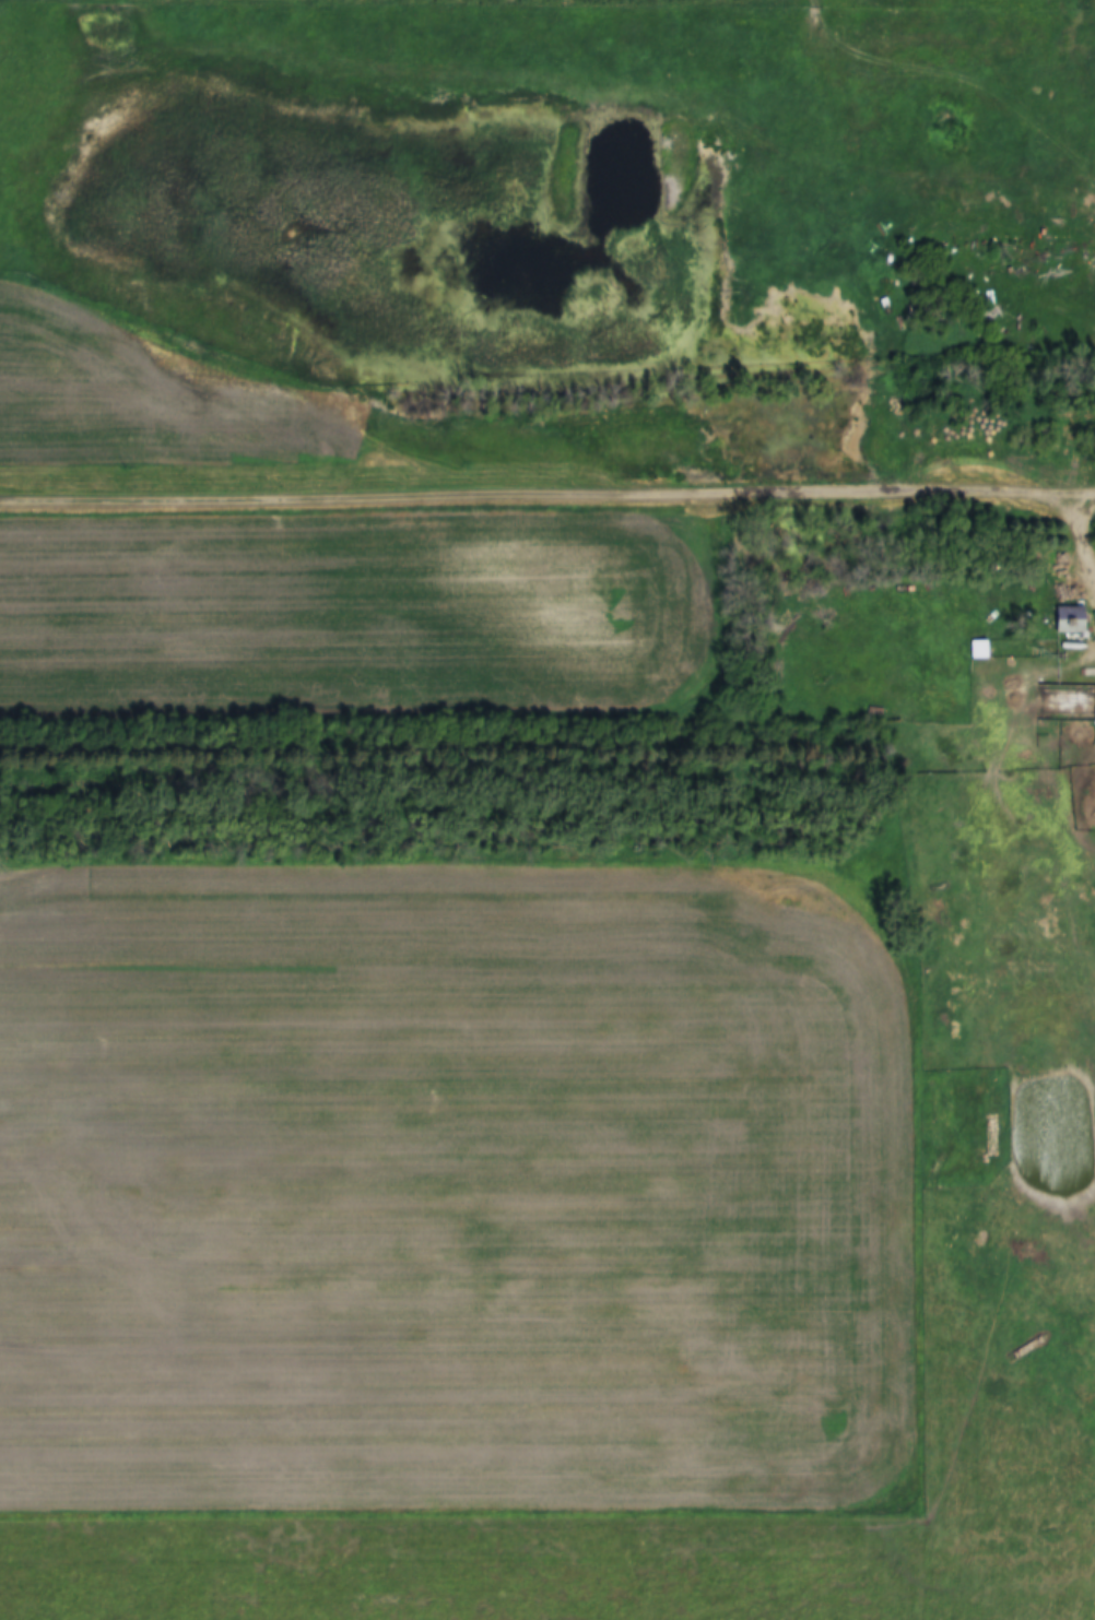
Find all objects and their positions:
road: (1094, 188)
road: (547, 492)
road: (1083, 533)
building: (1073, 619)
building: (984, 649)
building: (1068, 703)

